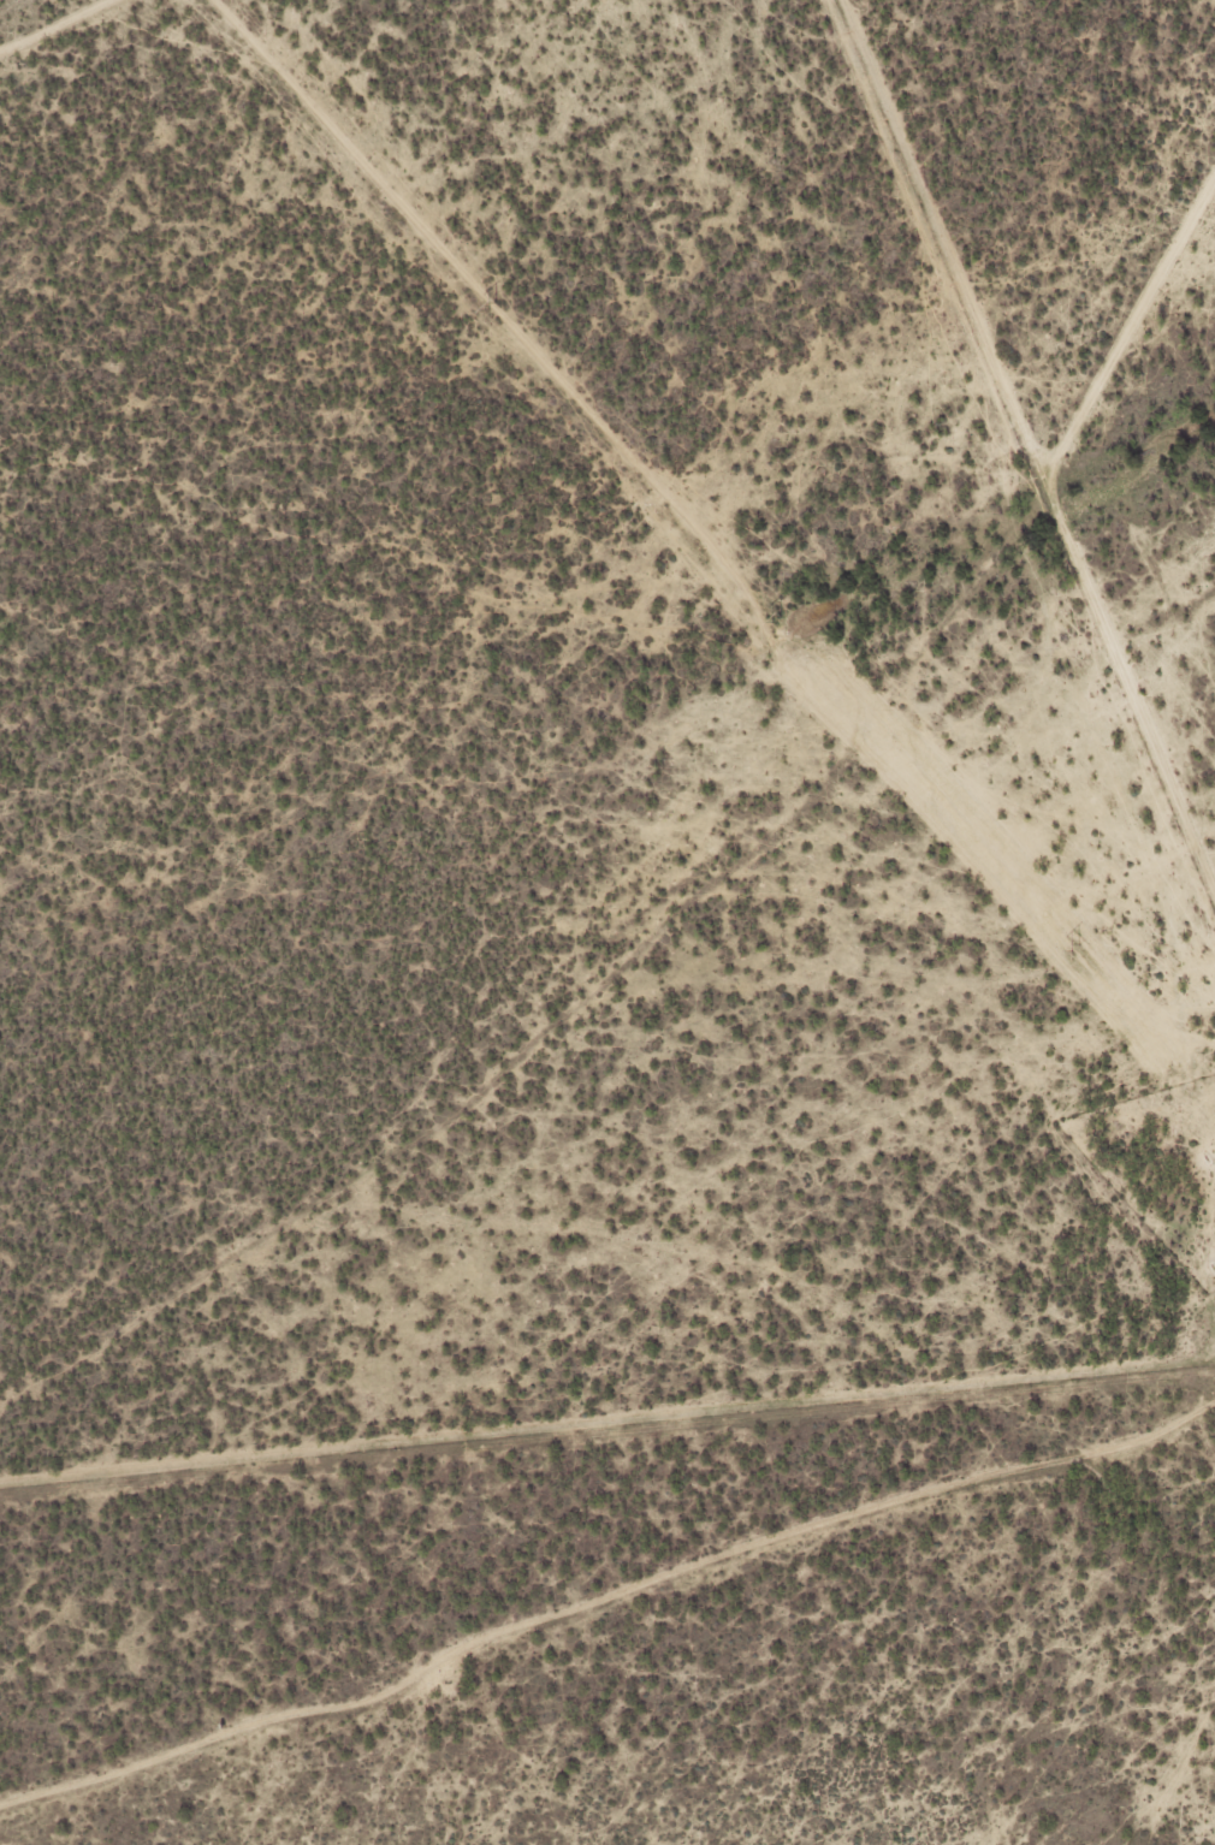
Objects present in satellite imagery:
road: (53, 23)
road: (309, 100)
power tower: (488, 305)
road: (1015, 601)
power tower: (776, 619)
power tower: (1073, 948)
road: (194, 1466)
road: (799, 1568)
road: (190, 1743)

